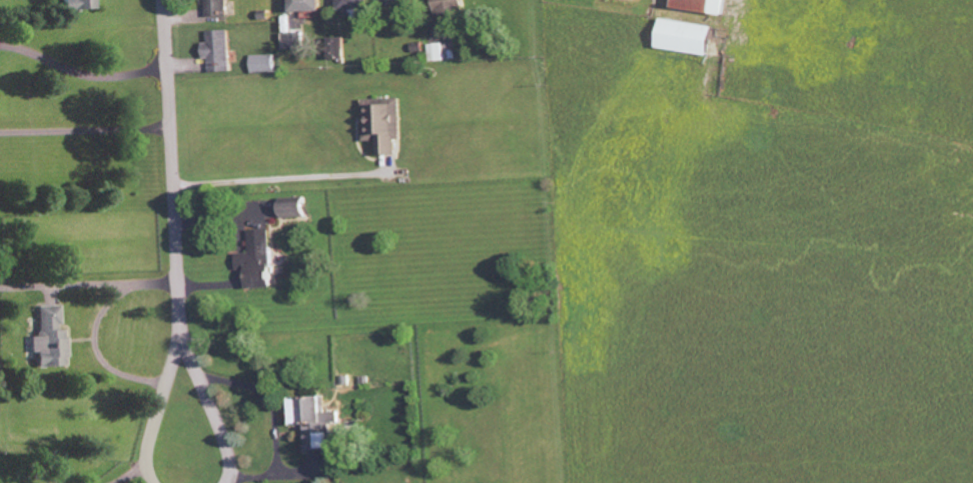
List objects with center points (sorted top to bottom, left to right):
building: (395, 3)
building: (81, 4)
building: (354, 5)
building: (306, 6)
building: (703, 6)
building: (216, 8)
building: (449, 9)
building: (685, 37)
building: (293, 42)
building: (337, 49)
building: (218, 51)
building: (436, 52)
building: (262, 64)
road: (83, 74)
building: (383, 122)
road: (87, 130)
road: (176, 160)
road: (280, 178)
building: (293, 206)
building: (258, 257)
road: (97, 328)
building: (50, 338)
road: (211, 401)
road: (162, 402)
building: (314, 420)

